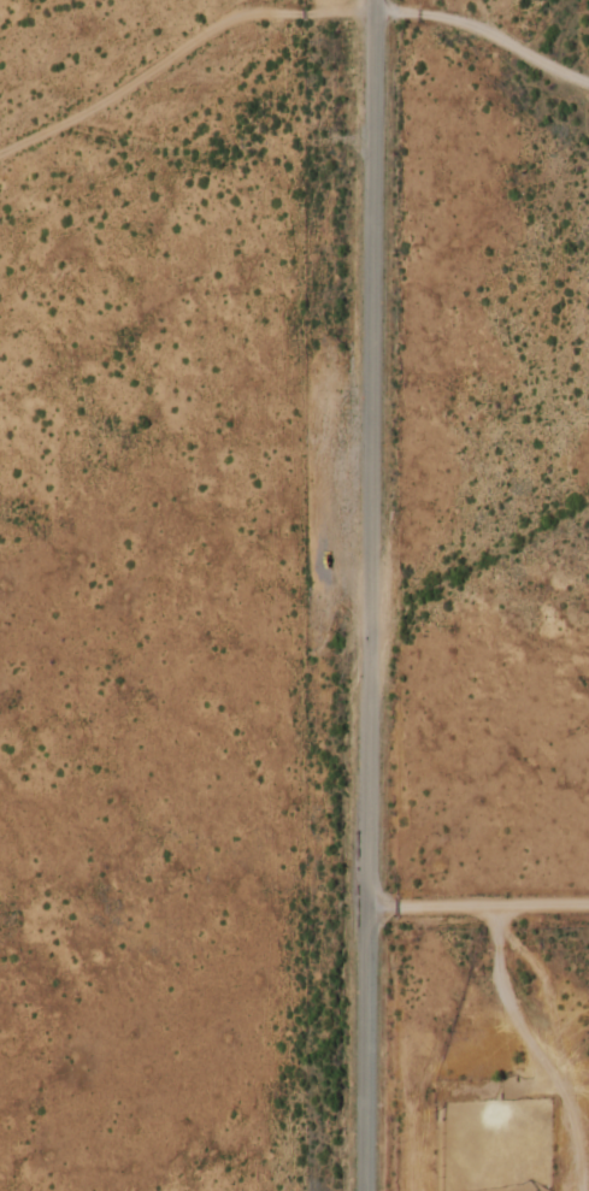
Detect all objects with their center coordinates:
road: (485, 24)
road: (177, 43)
road: (367, 595)
road: (476, 897)
road: (536, 1043)

